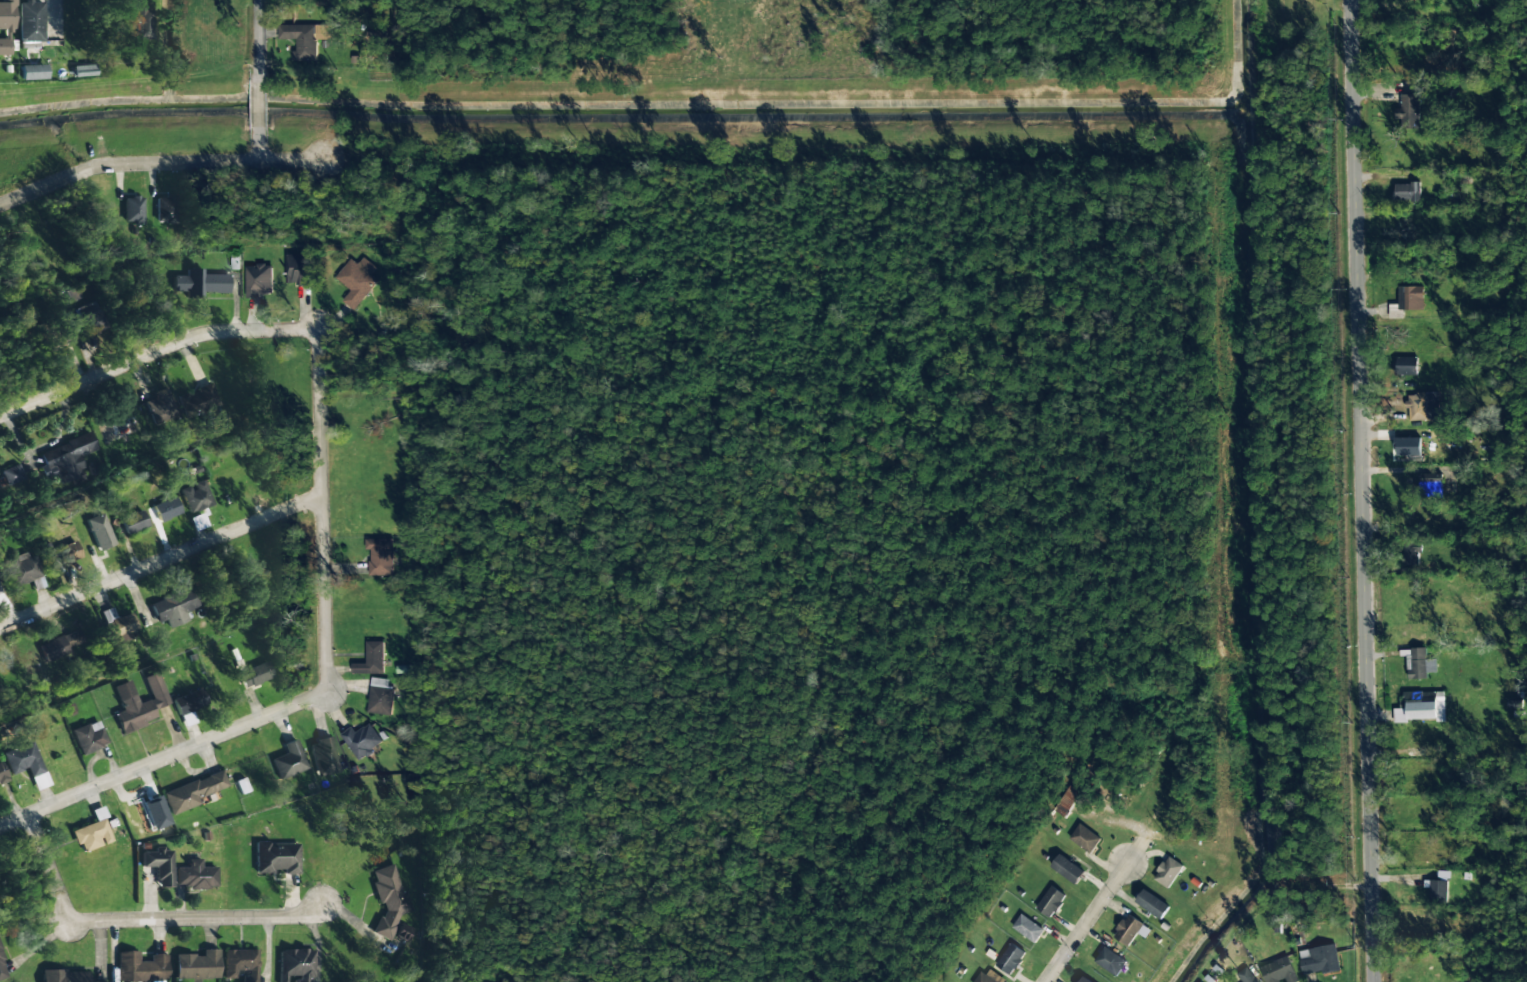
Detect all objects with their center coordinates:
building: (6, 24)
building: (30, 24)
building: (142, 24)
building: (305, 39)
road: (257, 41)
building: (32, 72)
road: (257, 104)
building: (1408, 111)
road: (257, 143)
road: (157, 162)
building: (1406, 192)
building: (133, 209)
building: (164, 209)
building: (298, 269)
building: (258, 281)
building: (356, 281)
building: (200, 283)
building: (1412, 298)
building: (77, 325)
road: (154, 352)
building: (1407, 366)
building: (198, 402)
building: (1422, 406)
building: (159, 407)
building: (1408, 447)
building: (67, 458)
building: (12, 474)
building: (1429, 487)
road: (1359, 491)
building: (195, 497)
building: (166, 510)
road: (322, 510)
building: (133, 522)
building: (99, 532)
building: (67, 552)
building: (1413, 554)
building: (380, 556)
road: (161, 561)
building: (24, 568)
building: (174, 607)
building: (117, 626)
building: (59, 646)
building: (371, 660)
building: (1420, 664)
building: (255, 675)
building: (380, 697)
building: (189, 702)
building: (139, 703)
building: (1423, 710)
building: (188, 719)
building: (89, 737)
building: (362, 741)
building: (323, 757)
road: (163, 759)
building: (22, 760)
building: (289, 760)
building: (2, 774)
building: (192, 792)
building: (1064, 801)
building: (154, 813)
building: (91, 835)
building: (1084, 838)
building: (276, 859)
building: (159, 865)
building: (1066, 869)
building: (1168, 872)
building: (195, 876)
building: (1436, 890)
building: (389, 900)
building: (1051, 902)
building: (1152, 904)
road: (147, 919)
road: (1084, 919)
building: (1027, 928)
building: (1130, 930)
building: (1010, 959)
building: (1319, 960)
building: (1110, 961)
building: (240, 964)
building: (296, 964)
building: (197, 965)
building: (141, 967)
building: (2, 969)
building: (1279, 971)
building: (1247, 975)
building: (65, 976)
building: (988, 977)
building: (1093, 977)
building: (105, 981)
building: (1081, 981)

